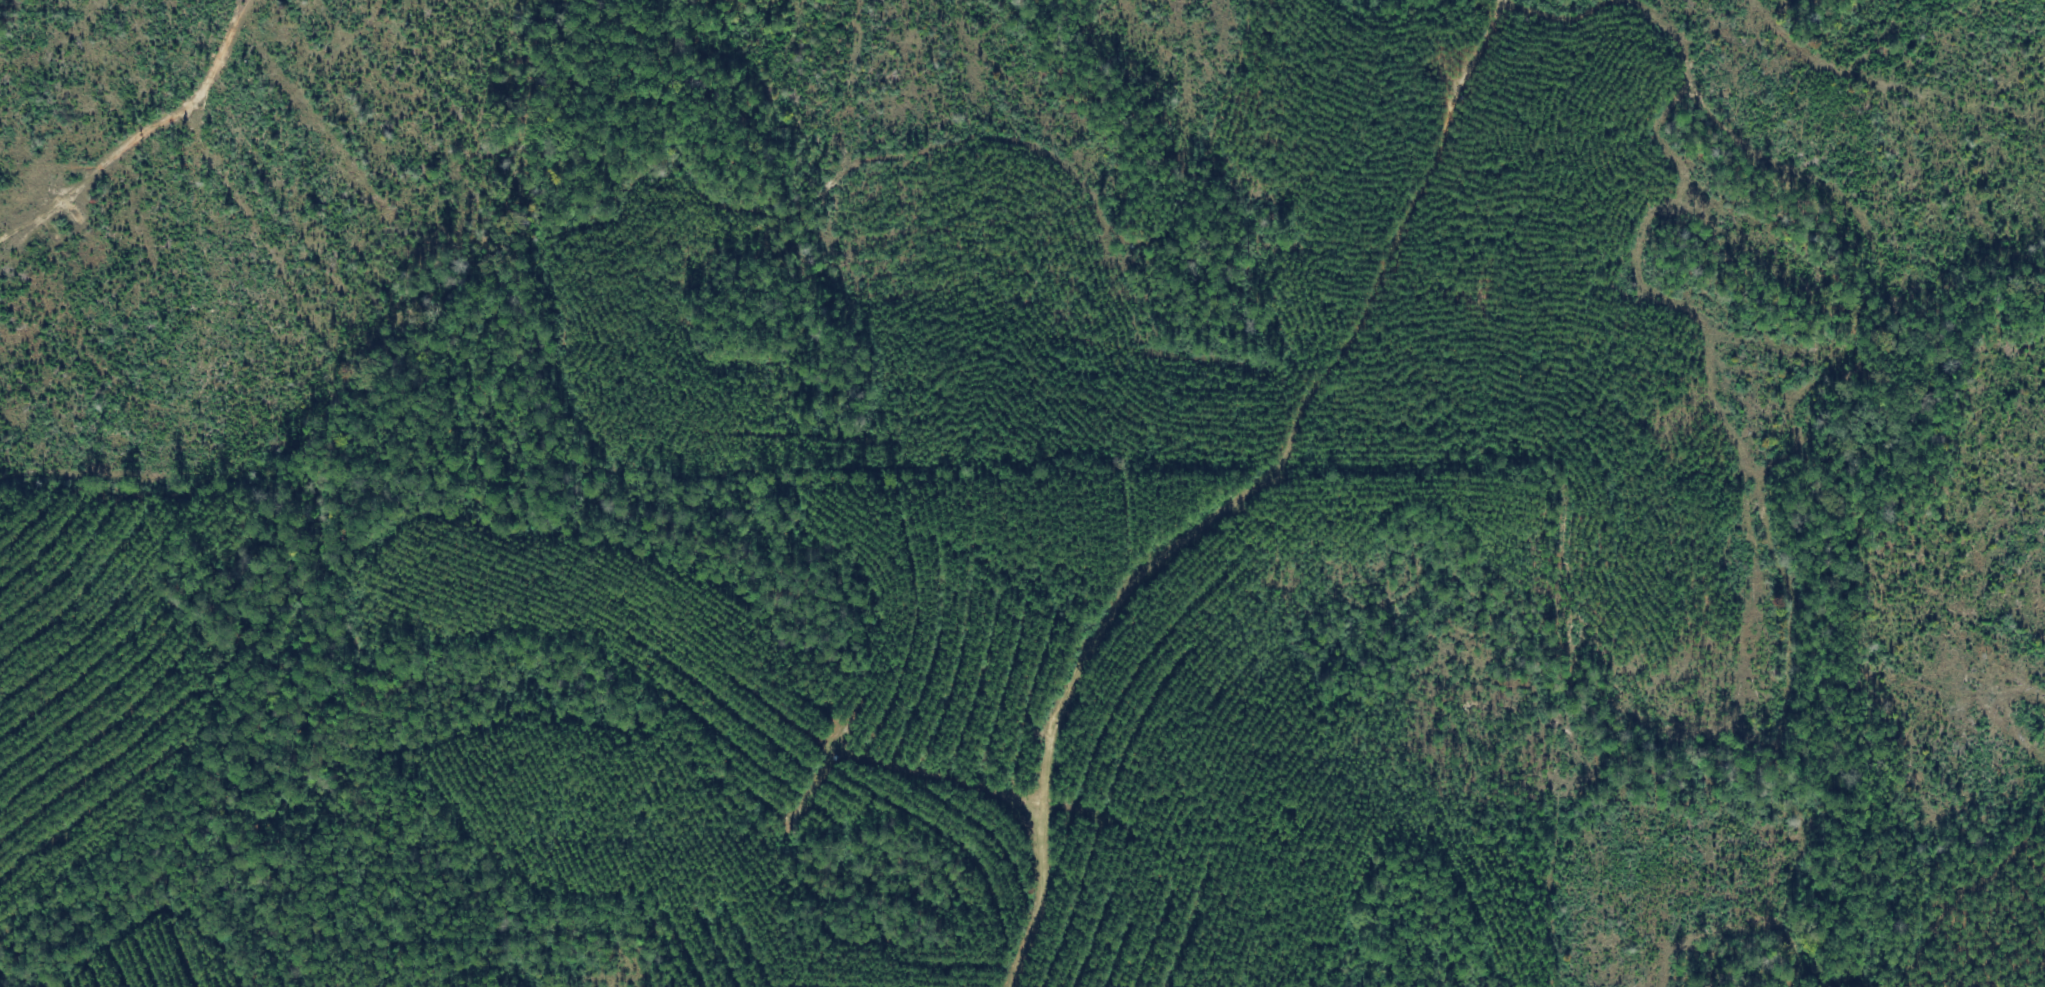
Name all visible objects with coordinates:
road: (1668, 237)
road: (1048, 676)

